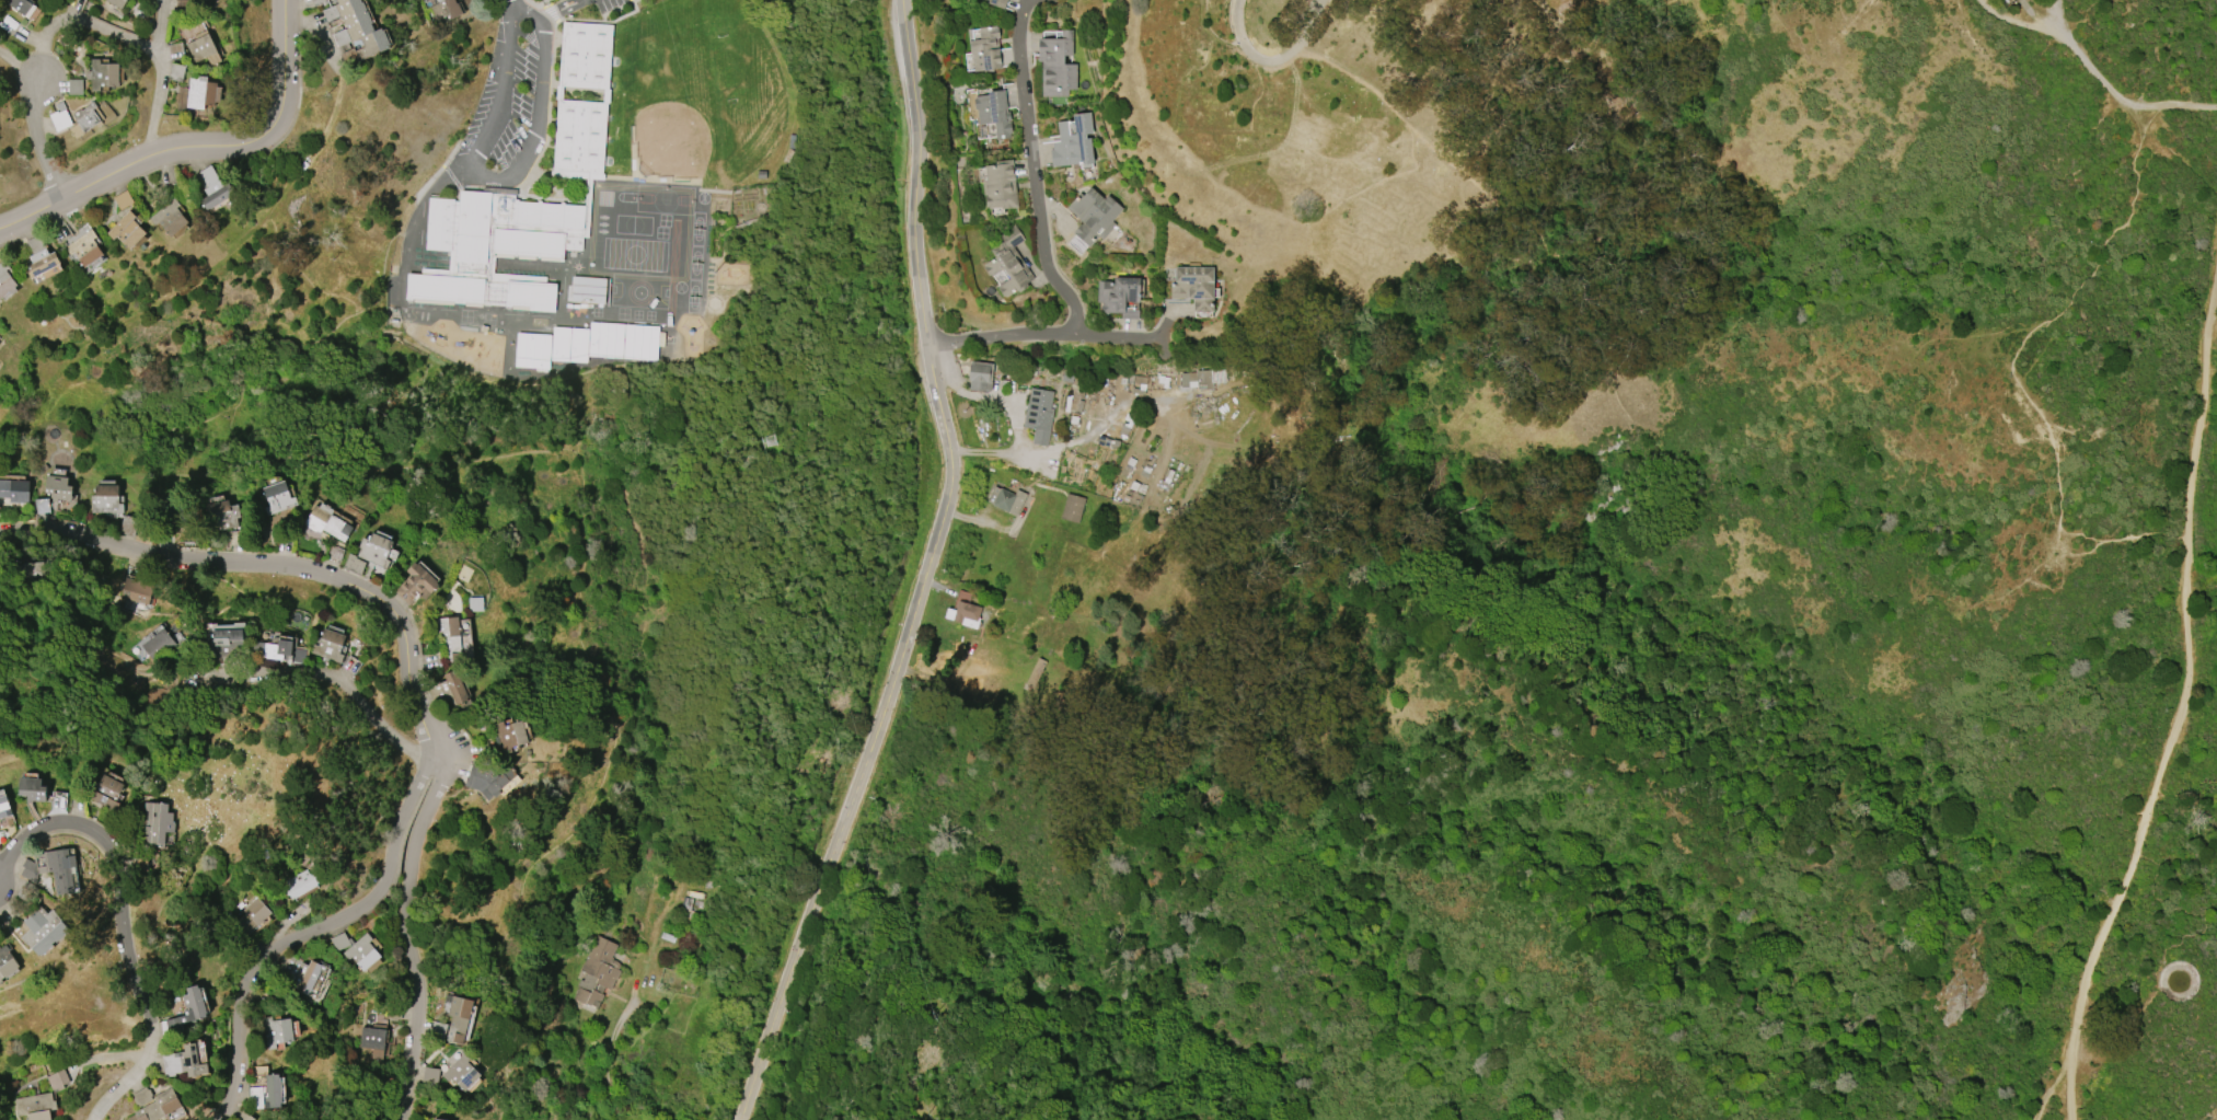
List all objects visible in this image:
building: (204, 0)
building: (316, 2)
building: (997, 2)
building: (116, 3)
building: (22, 7)
road: (551, 8)
building: (446, 9)
road: (522, 10)
road: (83, 20)
road: (1238, 20)
road: (2010, 20)
building: (355, 30)
building: (203, 48)
building: (984, 48)
road: (20, 62)
building: (1056, 65)
building: (176, 72)
building: (103, 74)
road: (155, 80)
parking lot: (524, 84)
road: (497, 85)
building: (74, 86)
road: (2114, 91)
building: (201, 92)
building: (605, 94)
building: (182, 97)
building: (993, 112)
road: (536, 116)
building: (85, 119)
building: (985, 130)
road: (41, 140)
park: (673, 142)
building: (1072, 142)
road: (194, 147)
road: (1037, 174)
building: (1000, 185)
building: (213, 188)
building: (1093, 216)
building: (169, 218)
building: (126, 230)
building: (494, 247)
building: (84, 249)
building: (39, 257)
building: (1008, 263)
building: (4, 279)
building: (1194, 287)
building: (587, 290)
building: (1120, 297)
building: (605, 339)
building: (640, 343)
road: (1046, 343)
building: (561, 344)
building: (578, 345)
building: (532, 350)
building: (979, 376)
building: (1210, 379)
building: (1038, 415)
power tower: (773, 441)
road: (557, 459)
building: (57, 487)
building: (14, 490)
building: (105, 498)
building: (277, 498)
building: (1006, 500)
building: (1072, 508)
building: (222, 513)
building: (326, 522)
building: (373, 550)
road: (299, 568)
road: (926, 569)
building: (415, 584)
building: (136, 588)
building: (963, 614)
building: (449, 637)
building: (226, 642)
building: (157, 644)
building: (328, 646)
building: (274, 649)
road: (335, 679)
building: (452, 688)
road: (2186, 708)
building: (509, 736)
building: (486, 780)
building: (32, 789)
building: (105, 792)
building: (3, 807)
building: (157, 822)
building: (59, 869)
building: (300, 884)
building: (251, 915)
road: (124, 922)
building: (43, 931)
road: (407, 936)
road: (289, 946)
building: (361, 952)
building: (7, 962)
building: (596, 972)
building: (301, 973)
building: (0, 980)
building: (192, 1004)
building: (453, 1020)
building: (276, 1031)
building: (372, 1040)
road: (611, 1057)
building: (183, 1062)
power tower: (935, 1062)
building: (460, 1072)
building: (430, 1075)
building: (58, 1079)
building: (265, 1094)
building: (36, 1107)
building: (159, 1107)
building: (245, 1116)
building: (436, 1119)

